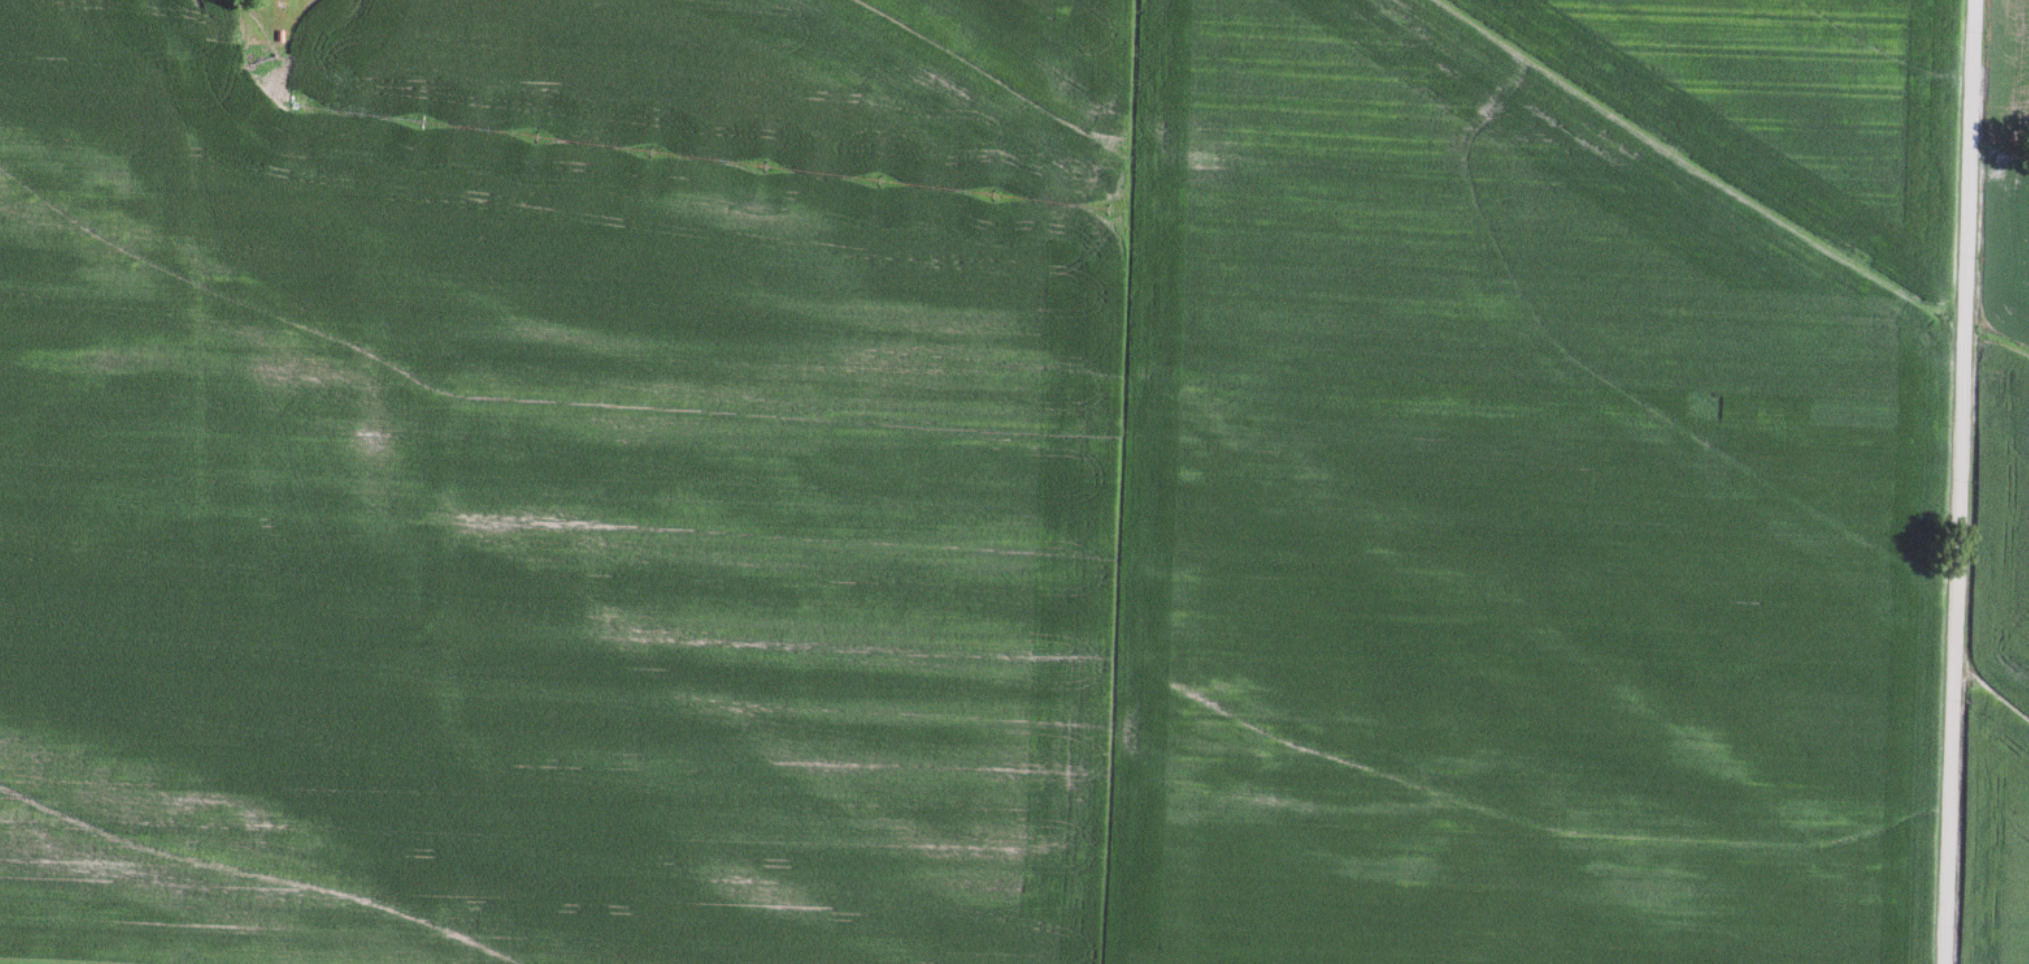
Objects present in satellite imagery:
road: (1960, 482)

